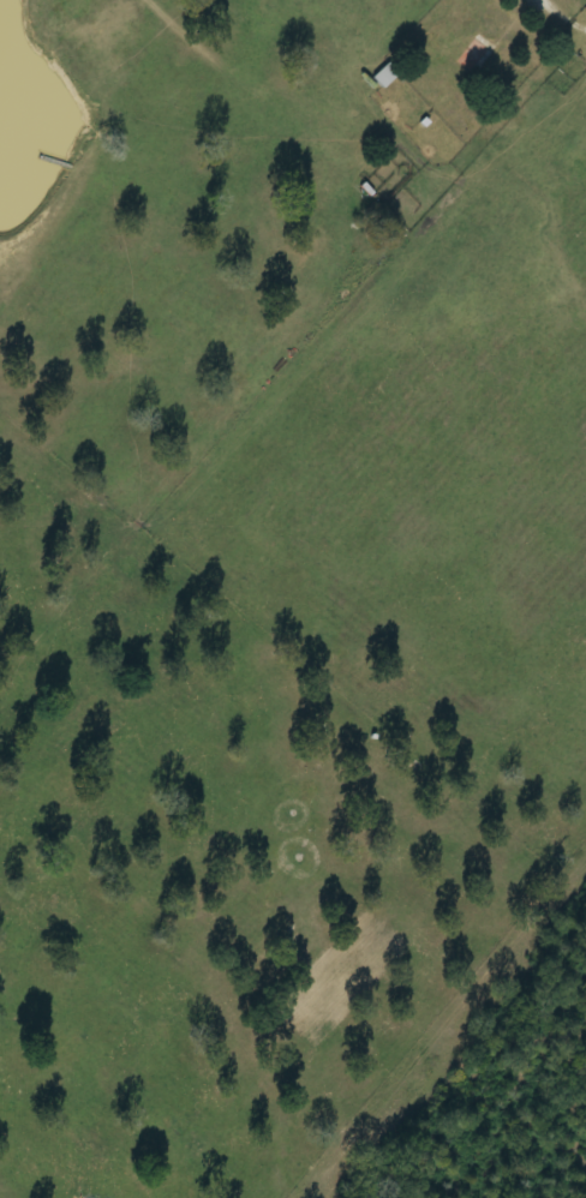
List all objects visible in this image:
road: (561, 17)

